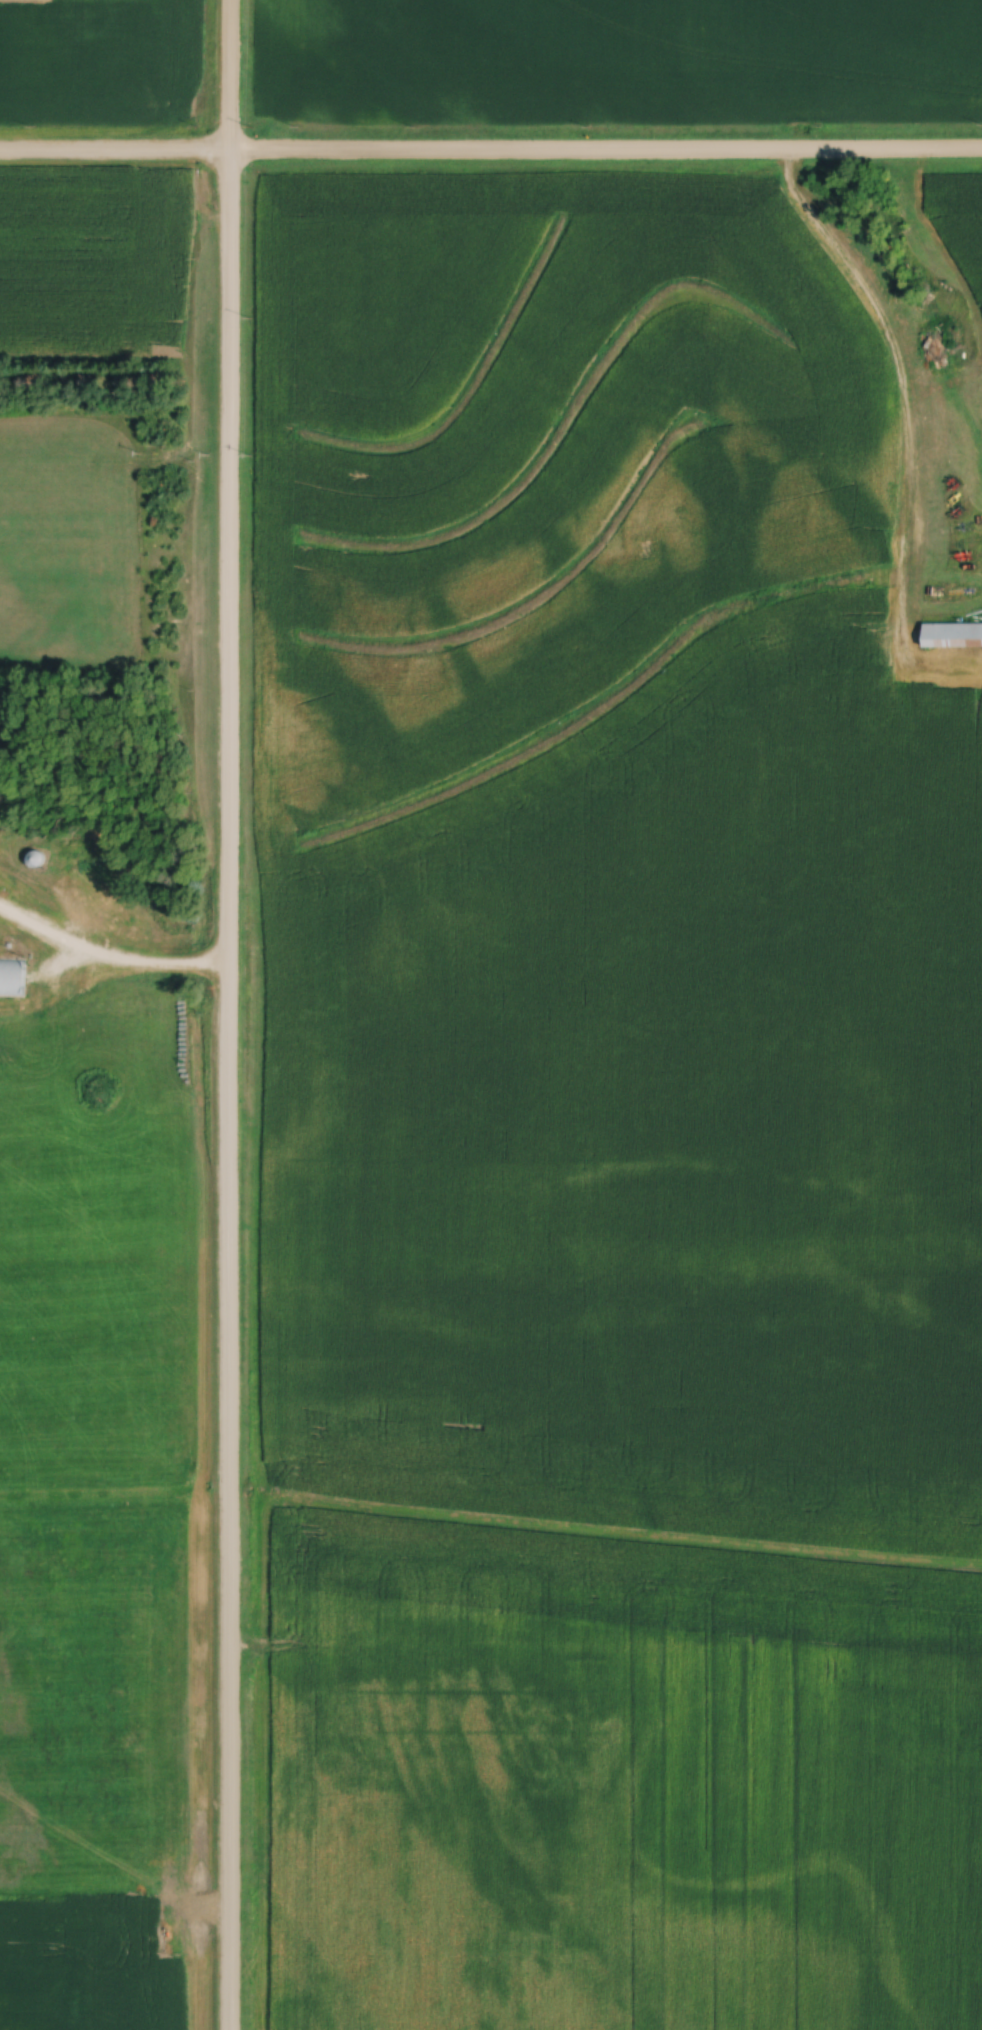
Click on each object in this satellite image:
road: (379, 95)
road: (490, 154)
road: (898, 378)
building: (953, 637)
building: (917, 749)
building: (1, 853)
building: (127, 925)
road: (125, 964)
building: (13, 979)
road: (228, 1015)

